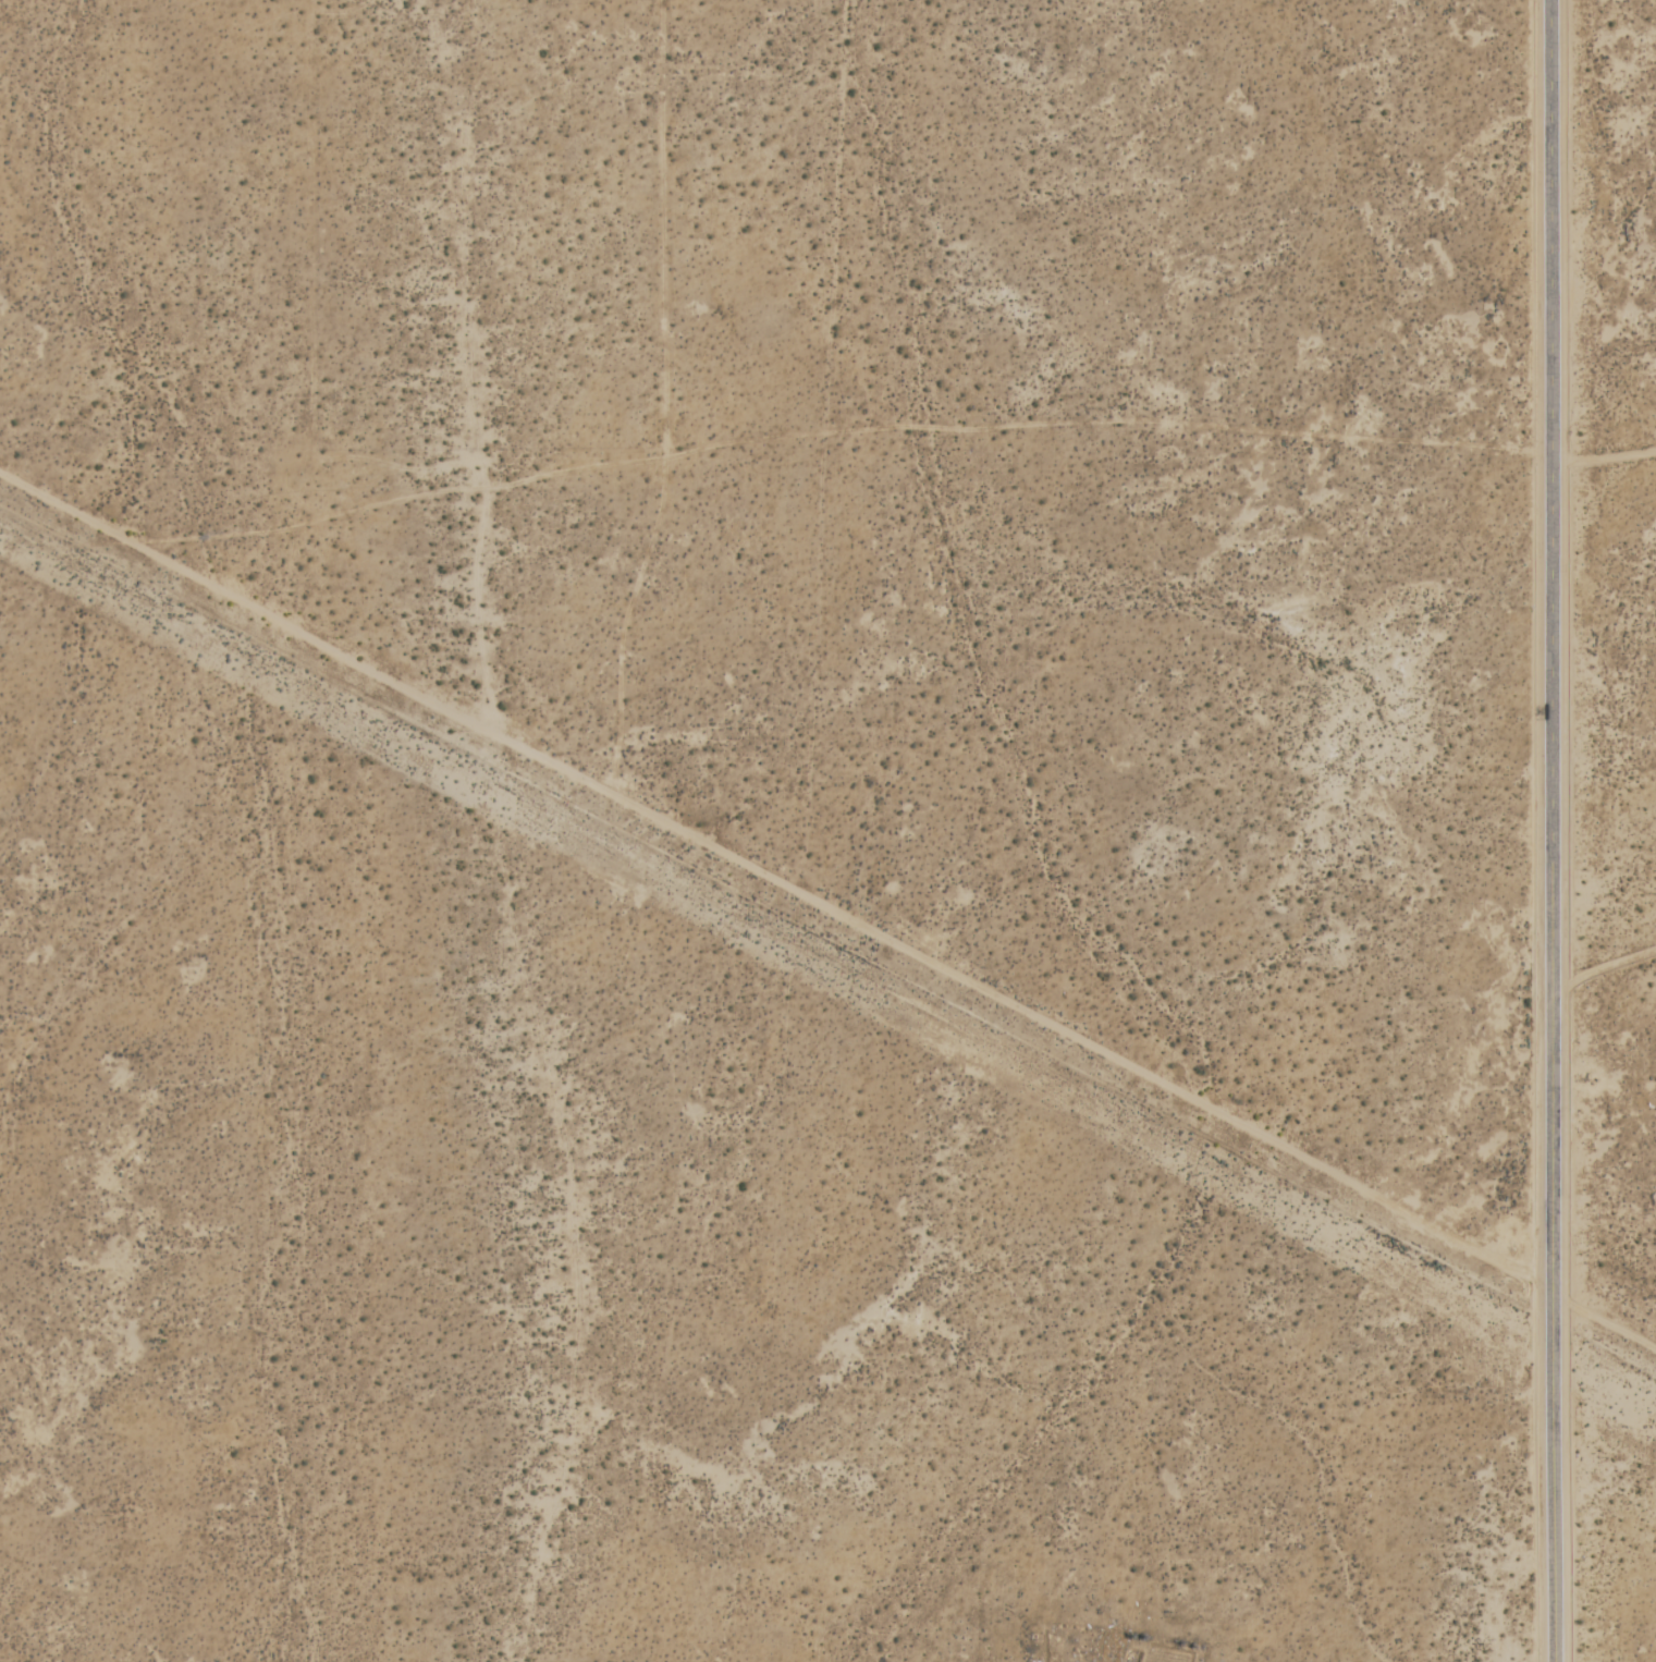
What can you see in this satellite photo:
road: (1559, 831)
road: (1608, 1320)

